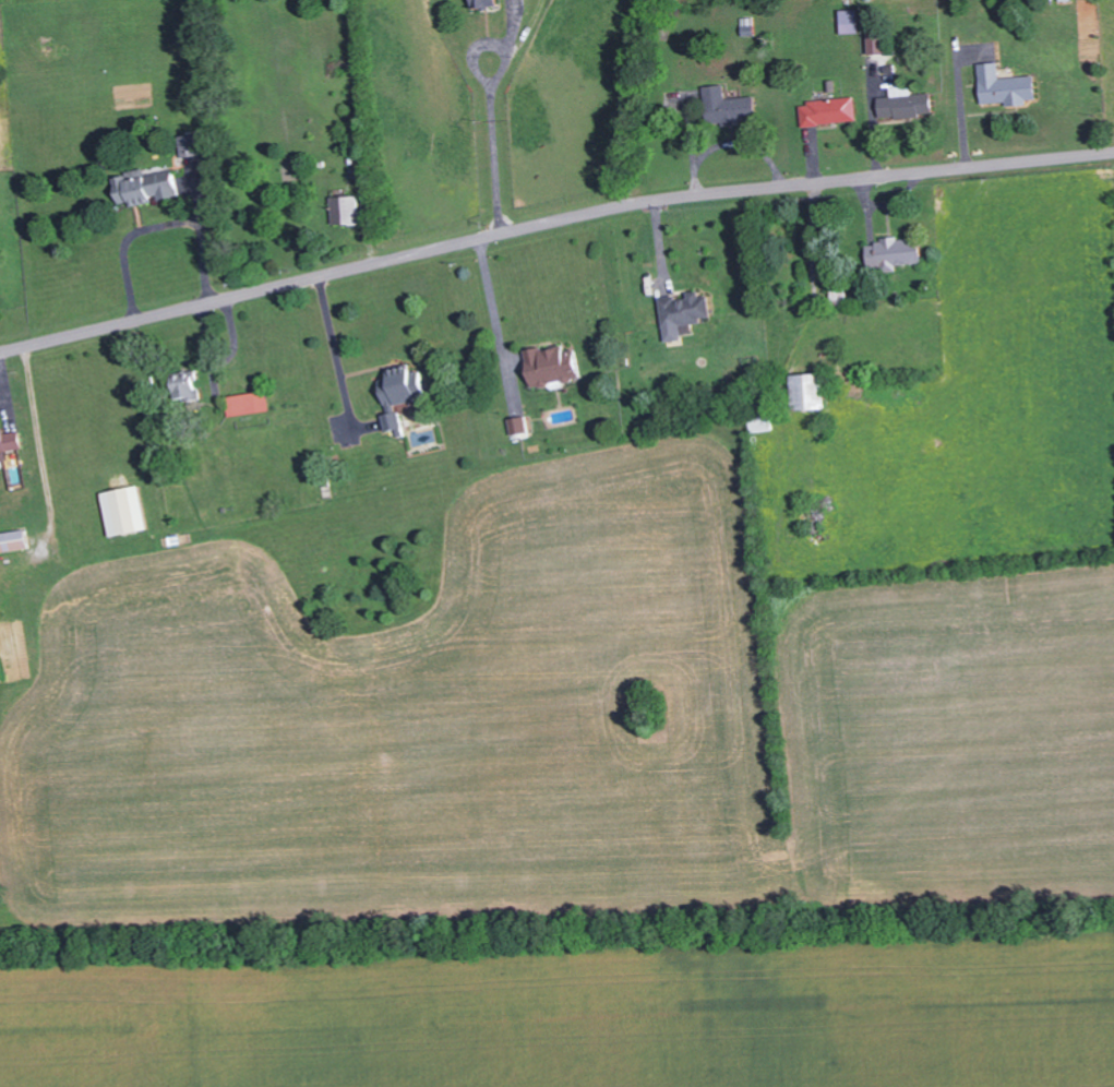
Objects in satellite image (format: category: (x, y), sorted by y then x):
building: (483, 2)
building: (848, 21)
building: (747, 27)
building: (876, 41)
building: (1004, 85)
building: (905, 103)
building: (727, 105)
building: (827, 110)
building: (189, 144)
building: (144, 187)
building: (343, 208)
road: (551, 220)
building: (891, 252)
building: (681, 311)
building: (547, 366)
building: (183, 385)
building: (807, 391)
building: (398, 392)
building: (247, 403)
building: (517, 427)
building: (9, 442)
building: (120, 510)
building: (12, 540)

